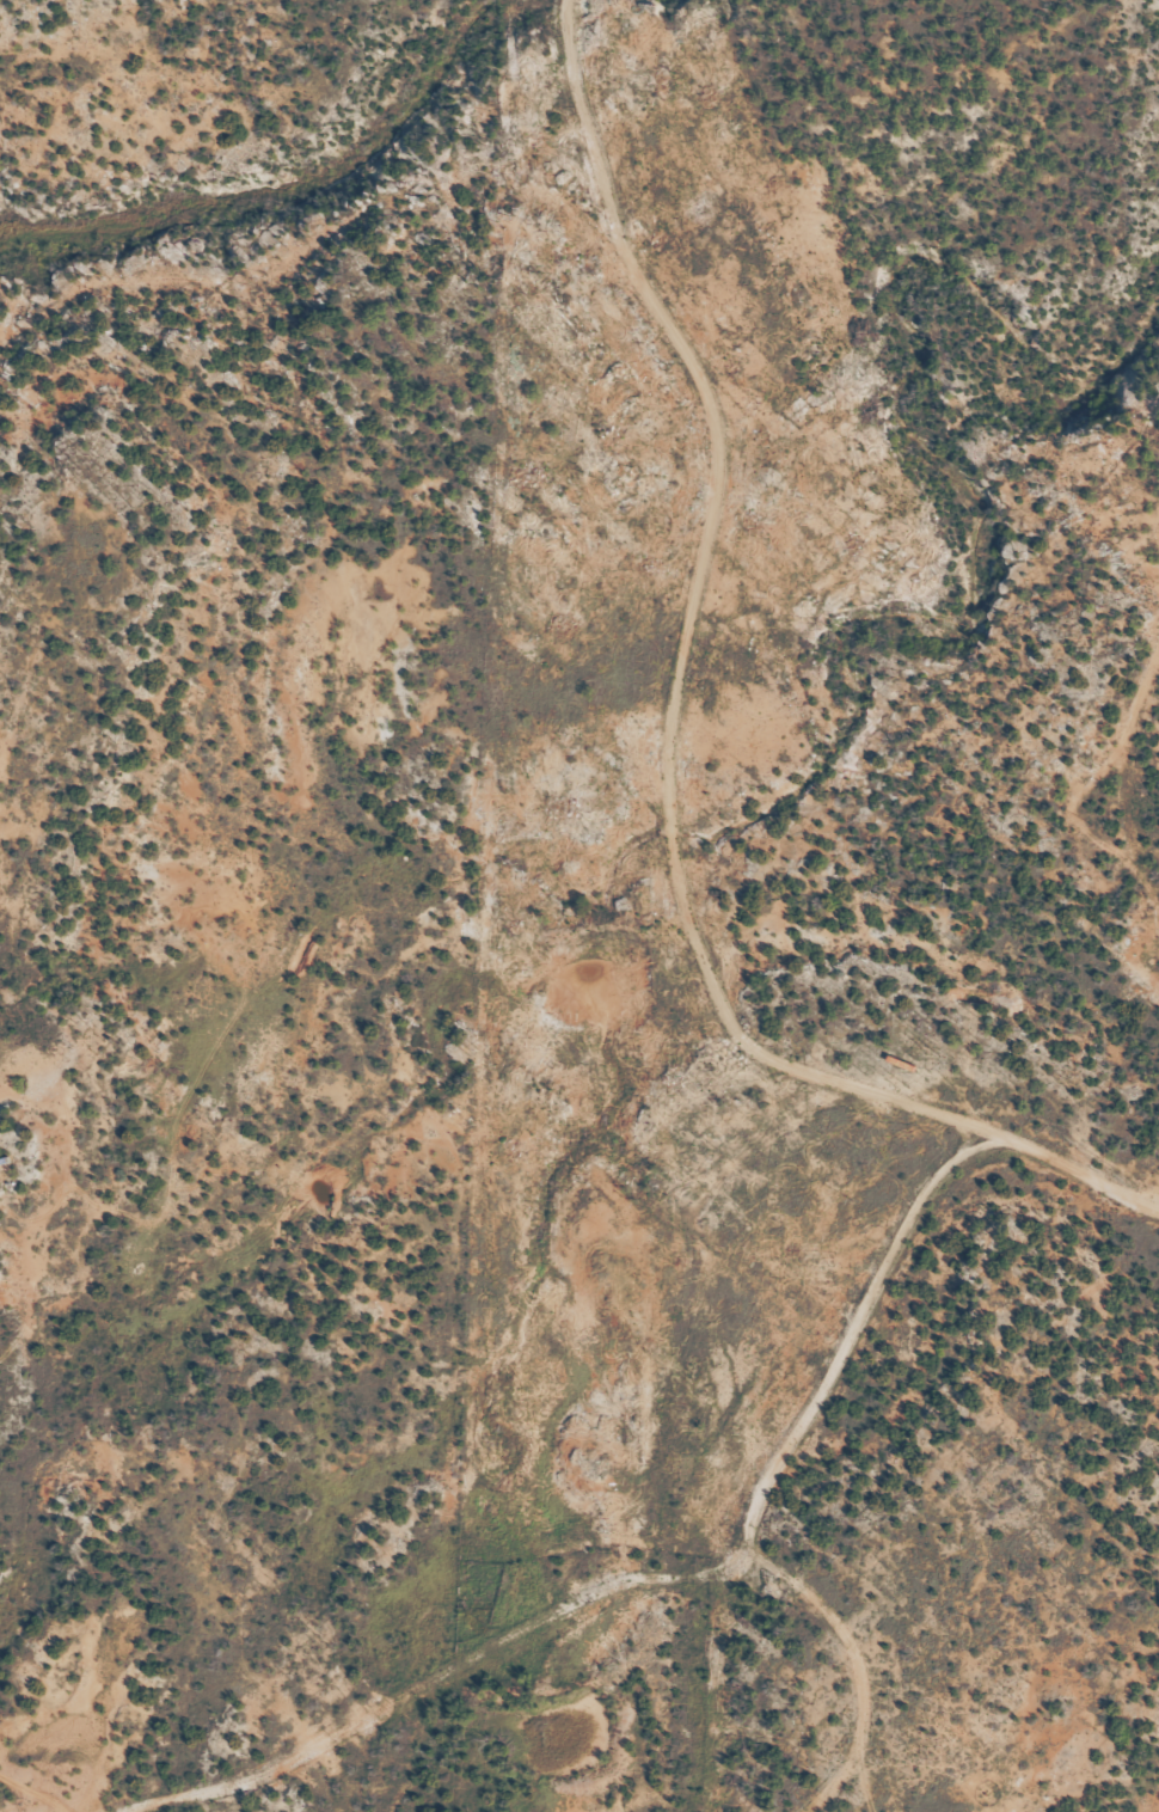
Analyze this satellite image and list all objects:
road: (697, 630)
road: (642, 1403)

